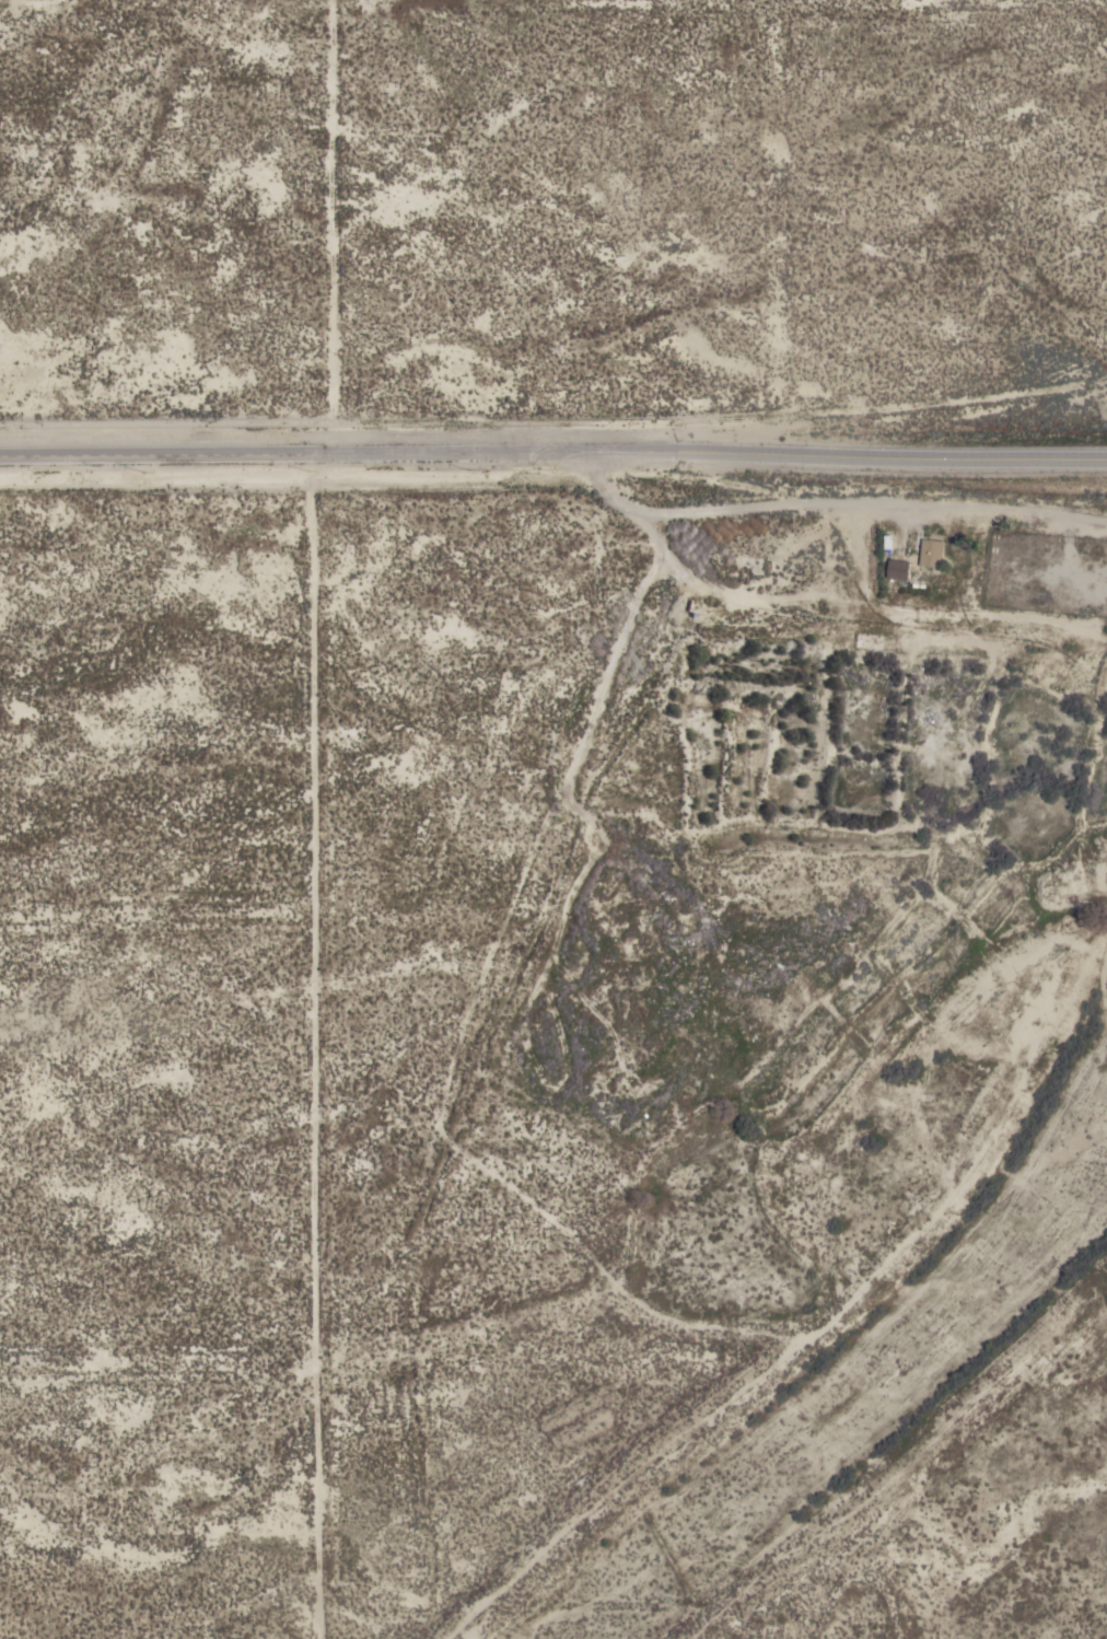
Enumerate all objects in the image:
road: (710, 452)
road: (156, 456)
road: (827, 501)
building: (931, 553)
building: (899, 569)
road: (314, 1046)

